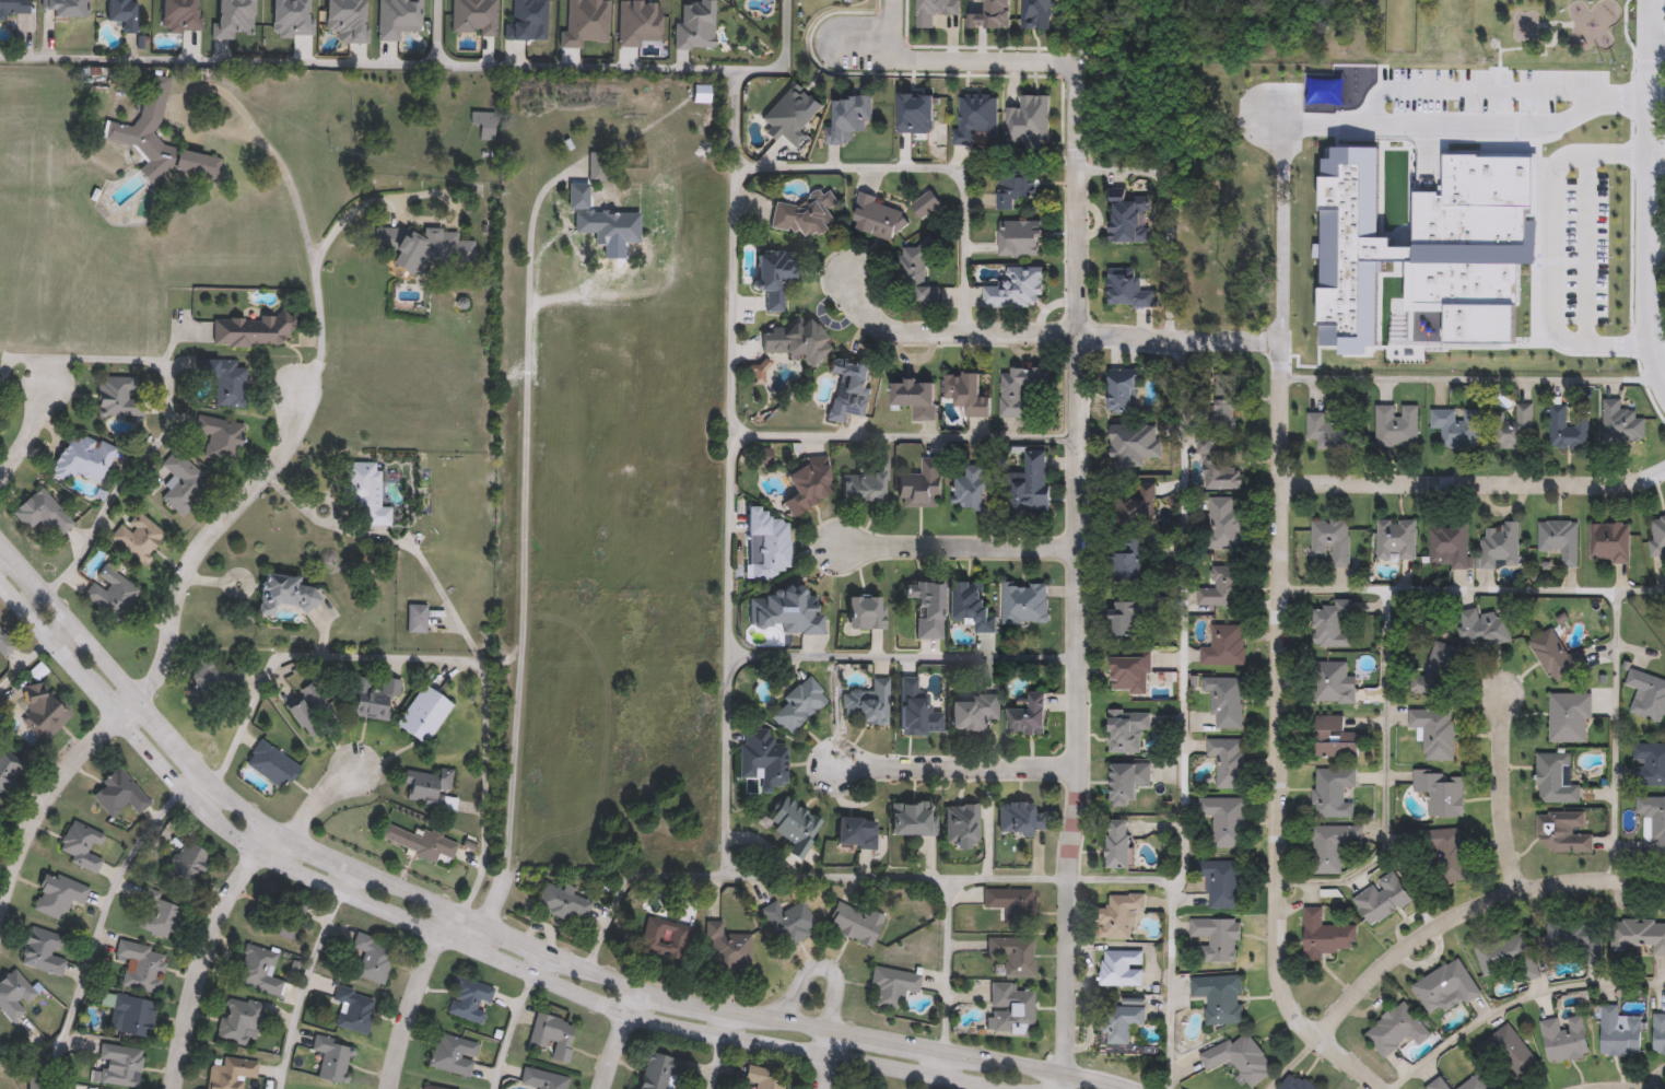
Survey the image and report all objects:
building: (14, 7)
building: (67, 8)
building: (943, 10)
building: (1041, 12)
building: (124, 13)
building: (189, 13)
building: (992, 13)
building: (480, 14)
building: (301, 15)
building: (242, 16)
building: (403, 16)
building: (354, 17)
building: (532, 19)
building: (645, 20)
building: (590, 21)
road: (894, 21)
building: (702, 24)
park: (1398, 24)
park: (1325, 45)
road: (1656, 45)
building: (1453, 51)
road: (218, 60)
road: (952, 62)
road: (551, 67)
road: (741, 71)
road: (1476, 86)
building: (702, 95)
building: (847, 117)
building: (976, 118)
building: (1029, 120)
building: (485, 124)
road: (1359, 125)
building: (130, 132)
road: (1656, 164)
building: (598, 165)
road: (794, 167)
building: (1015, 186)
road: (1649, 194)
road: (415, 197)
road: (1550, 203)
building: (925, 204)
road: (301, 213)
building: (806, 214)
road: (1629, 214)
building: (878, 218)
building: (1128, 218)
building: (607, 224)
building: (1019, 237)
road: (1585, 247)
building: (453, 248)
building: (1423, 249)
building: (914, 270)
building: (773, 277)
building: (1015, 289)
building: (1128, 289)
building: (249, 329)
road: (1050, 337)
building: (795, 340)
road: (1605, 340)
building: (226, 379)
road: (1474, 380)
building: (1019, 388)
building: (849, 389)
building: (1124, 390)
building: (964, 394)
building: (118, 396)
building: (914, 398)
building: (1227, 399)
building: (1621, 423)
building: (1394, 425)
building: (1455, 426)
building: (1510, 428)
road: (164, 429)
building: (1567, 429)
road: (34, 431)
building: (1329, 431)
building: (220, 435)
road: (797, 436)
building: (1134, 444)
building: (82, 457)
building: (1218, 464)
road: (1475, 482)
building: (865, 483)
building: (806, 485)
building: (921, 485)
building: (1029, 485)
building: (186, 487)
building: (973, 487)
building: (365, 494)
building: (1136, 506)
building: (42, 512)
building: (1224, 513)
road: (524, 515)
building: (140, 535)
building: (1657, 535)
building: (1333, 539)
building: (1397, 539)
building: (1560, 539)
road: (0, 540)
building: (1610, 541)
road: (396, 543)
building: (766, 543)
road: (961, 544)
building: (1450, 544)
building: (1501, 546)
building: (1129, 559)
road: (1080, 579)
building: (1220, 586)
road: (1526, 590)
building: (113, 592)
building: (284, 593)
road: (35, 601)
building: (1025, 602)
building: (971, 604)
building: (927, 609)
road: (1184, 611)
building: (786, 612)
building: (865, 613)
building: (418, 617)
building: (1129, 619)
building: (1333, 624)
road: (59, 628)
building: (1485, 628)
building: (4, 643)
building: (1224, 644)
road: (166, 654)
building: (1553, 654)
road: (795, 656)
road: (435, 657)
road: (24, 664)
building: (1435, 670)
building: (1130, 671)
building: (1333, 682)
building: (1648, 694)
building: (1227, 699)
building: (378, 700)
building: (867, 704)
building: (799, 705)
building: (44, 711)
building: (310, 711)
building: (972, 713)
building: (424, 715)
building: (1028, 717)
building: (1570, 717)
road: (1388, 723)
building: (1128, 728)
building: (1435, 731)
road: (1280, 734)
road: (1614, 736)
building: (1335, 737)
building: (762, 758)
building: (1228, 760)
building: (272, 763)
road: (957, 764)
building: (1650, 764)
building: (8, 768)
road: (190, 776)
building: (1557, 778)
building: (1128, 781)
building: (427, 785)
building: (1333, 791)
building: (1442, 792)
building: (118, 793)
road: (1500, 796)
road: (320, 797)
building: (912, 818)
building: (1019, 818)
building: (1226, 819)
building: (961, 822)
building: (1654, 822)
building: (794, 825)
building: (1563, 831)
building: (855, 833)
building: (420, 840)
building: (1119, 842)
building: (81, 843)
building: (1332, 845)
building: (1450, 855)
building: (188, 862)
road: (741, 876)
road: (1068, 880)
building: (1221, 881)
building: (58, 894)
road: (494, 898)
building: (1383, 898)
building: (563, 902)
building: (1011, 905)
road: (1468, 907)
building: (281, 913)
building: (1119, 914)
building: (156, 915)
building: (788, 922)
building: (855, 923)
road: (98, 928)
road: (505, 930)
road: (480, 934)
building: (1325, 934)
building: (1639, 934)
road: (450, 935)
building: (1217, 936)
building: (661, 939)
building: (1583, 941)
road: (206, 946)
building: (726, 948)
building: (43, 950)
building: (1012, 955)
building: (373, 958)
building: (1511, 958)
building: (1122, 967)
building: (143, 968)
building: (260, 971)
road: (833, 971)
road: (304, 986)
building: (892, 986)
building: (1445, 987)
building: (14, 994)
road: (414, 995)
building: (1220, 997)
building: (470, 1000)
road: (1514, 1002)
building: (1010, 1009)
building: (354, 1010)
building: (132, 1014)
building: (241, 1020)
building: (1121, 1020)
building: (1397, 1029)
road: (509, 1030)
building: (1619, 1031)
building: (1660, 1033)
building: (554, 1037)
road: (619, 1037)
building: (1566, 1038)
road: (718, 1047)
road: (30, 1052)
building: (1509, 1053)
building: (454, 1055)
building: (1241, 1057)
building: (332, 1058)
building: (120, 1065)
building: (657, 1072)
road: (823, 1072)
building: (232, 1073)
building: (764, 1078)
building: (543, 1079)
road: (926, 1081)
building: (1297, 1082)
building: (1439, 1084)
building: (1475, 1084)
building: (434, 1087)
road: (1625, 1087)

